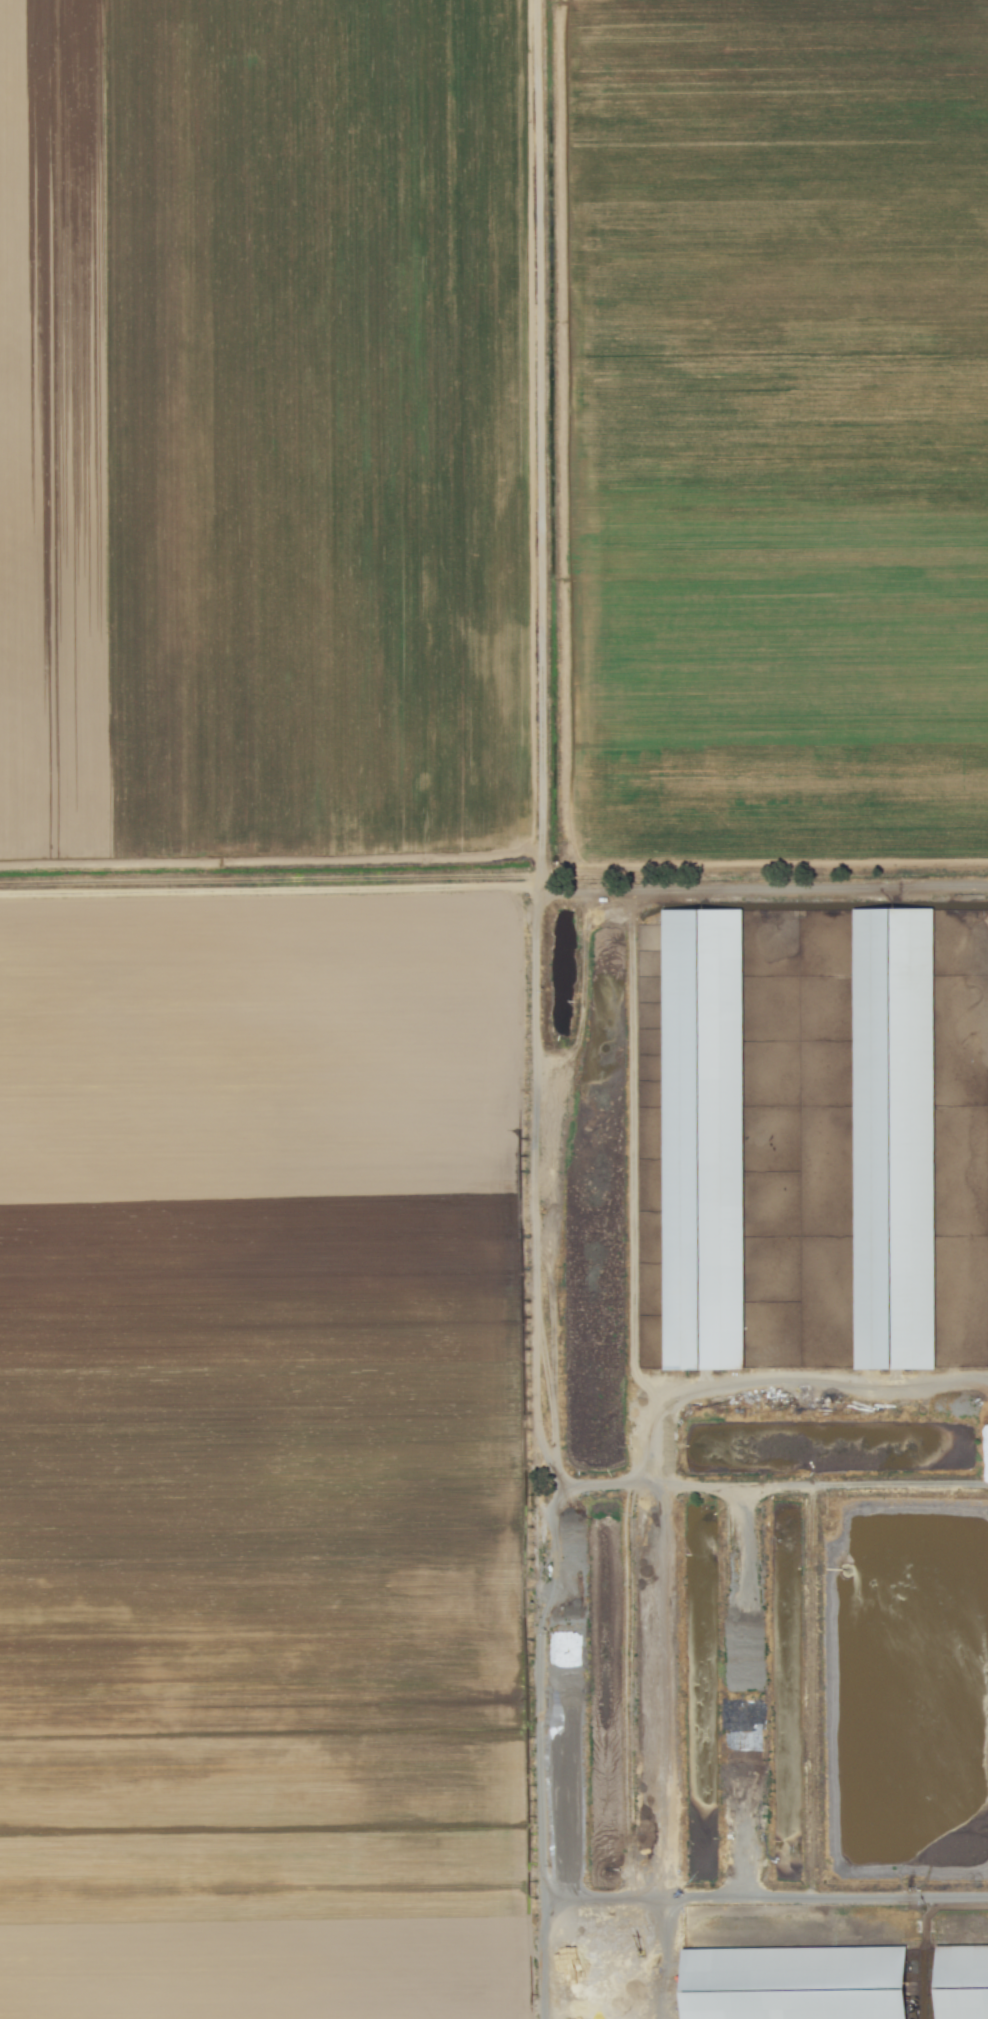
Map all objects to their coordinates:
building: (703, 1140)
road: (597, 1482)
road: (704, 1897)
road: (664, 1958)
building: (961, 1982)
building: (794, 1983)

